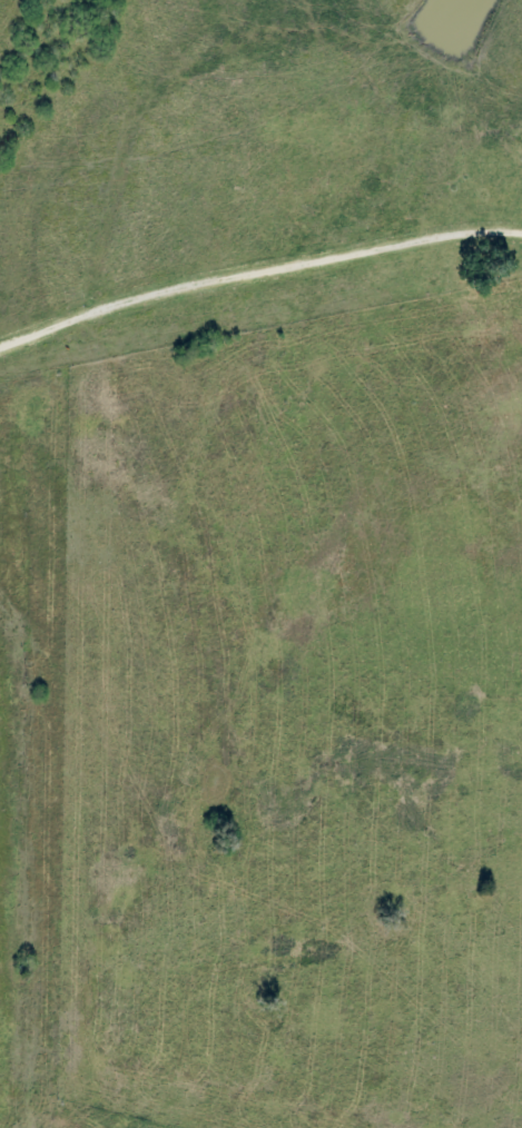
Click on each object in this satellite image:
road: (257, 288)

